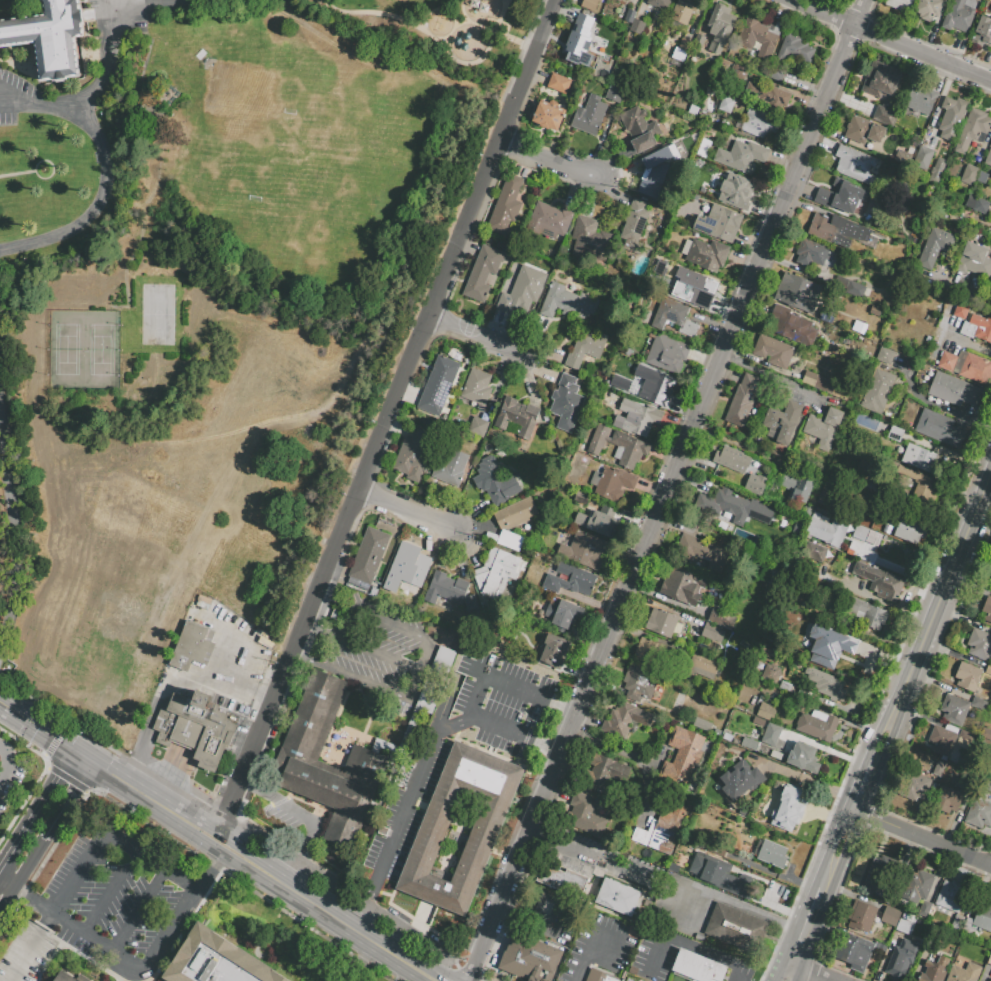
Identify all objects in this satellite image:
road: (108, 3)
road: (317, 3)
building: (660, 3)
road: (119, 4)
building: (588, 4)
building: (901, 4)
road: (636, 6)
building: (928, 9)
building: (684, 10)
road: (642, 11)
road: (778, 12)
road: (823, 13)
building: (960, 15)
parking lot: (119, 18)
road: (708, 18)
building: (631, 19)
road: (697, 21)
building: (720, 26)
building: (638, 29)
building: (984, 29)
park: (436, 31)
road: (485, 31)
building: (49, 36)
building: (759, 36)
road: (435, 41)
building: (579, 41)
building: (700, 44)
building: (686, 47)
road: (923, 53)
building: (790, 56)
road: (537, 76)
road: (100, 80)
building: (880, 80)
building: (558, 83)
building: (614, 93)
parking lot: (13, 97)
building: (770, 97)
building: (921, 99)
road: (17, 105)
building: (549, 115)
building: (589, 115)
building: (885, 115)
building: (951, 117)
building: (758, 123)
building: (640, 128)
building: (863, 130)
building: (972, 130)
park: (276, 133)
road: (601, 139)
building: (742, 155)
building: (988, 158)
road: (545, 159)
building: (924, 159)
road: (613, 161)
building: (855, 163)
road: (50, 165)
building: (938, 171)
road: (619, 172)
road: (17, 173)
building: (656, 173)
building: (969, 174)
road: (103, 189)
road: (575, 191)
road: (612, 192)
building: (739, 192)
building: (842, 196)
road: (590, 198)
building: (982, 205)
building: (505, 208)
building: (549, 221)
building: (719, 222)
building: (635, 226)
building: (837, 230)
building: (590, 241)
road: (458, 246)
road: (470, 247)
building: (933, 247)
building: (809, 253)
building: (707, 254)
building: (976, 260)
building: (483, 272)
building: (696, 287)
building: (522, 290)
building: (856, 292)
building: (798, 293)
building: (567, 302)
building: (961, 310)
building: (876, 313)
park: (159, 316)
building: (673, 317)
road: (498, 326)
building: (793, 326)
building: (966, 328)
building: (981, 328)
building: (860, 329)
road: (477, 335)
road: (538, 337)
road: (970, 342)
building: (587, 347)
building: (773, 350)
park: (85, 351)
road: (546, 351)
building: (666, 353)
building: (886, 357)
building: (966, 365)
road: (540, 370)
building: (593, 374)
road: (781, 378)
road: (529, 379)
building: (817, 382)
building: (622, 383)
building: (438, 384)
road: (501, 385)
building: (477, 387)
building: (659, 389)
building: (954, 390)
building: (877, 391)
road: (412, 392)
building: (743, 400)
building: (566, 403)
road: (938, 405)
building: (518, 416)
building: (638, 416)
building: (782, 422)
building: (479, 426)
building: (823, 427)
building: (940, 428)
road: (400, 430)
building: (894, 433)
building: (618, 449)
building: (413, 456)
building: (919, 457)
building: (731, 460)
building: (451, 467)
building: (867, 473)
building: (495, 481)
building: (611, 481)
building: (754, 484)
building: (797, 488)
building: (921, 488)
road: (666, 490)
building: (772, 490)
road: (430, 497)
building: (582, 498)
building: (847, 499)
building: (740, 507)
road: (407, 510)
building: (515, 513)
road: (472, 514)
road: (14, 516)
building: (598, 521)
building: (886, 528)
building: (909, 529)
building: (825, 530)
road: (477, 531)
building: (866, 535)
road: (432, 540)
building: (510, 540)
road: (468, 547)
building: (584, 550)
building: (701, 552)
building: (814, 553)
building: (368, 555)
road: (338, 567)
road: (468, 568)
building: (407, 569)
road: (897, 570)
building: (496, 571)
building: (769, 576)
building: (569, 580)
building: (880, 581)
building: (682, 585)
road: (943, 585)
building: (990, 587)
building: (445, 589)
building: (373, 591)
building: (813, 598)
building: (202, 602)
building: (472, 606)
building: (987, 609)
building: (865, 612)
building: (562, 613)
building: (720, 617)
building: (231, 620)
building: (662, 623)
parking lot: (387, 624)
building: (712, 632)
building: (258, 634)
road: (298, 635)
building: (270, 639)
building: (830, 639)
building: (453, 642)
building: (505, 644)
building: (979, 644)
building: (192, 646)
building: (553, 651)
road: (245, 652)
building: (656, 655)
building: (855, 662)
parking lot: (237, 664)
parking lot: (369, 664)
road: (423, 665)
building: (703, 666)
building: (989, 671)
building: (773, 674)
building: (967, 676)
building: (436, 679)
road: (174, 682)
building: (637, 682)
road: (511, 684)
building: (829, 686)
building: (678, 700)
parking lot: (496, 703)
building: (980, 704)
building: (954, 709)
building: (766, 712)
building: (625, 720)
building: (758, 721)
road: (66, 722)
building: (702, 724)
road: (37, 726)
building: (816, 726)
road: (79, 728)
building: (196, 728)
building: (717, 731)
building: (770, 734)
road: (878, 734)
building: (986, 735)
building: (726, 736)
road: (55, 739)
building: (940, 739)
building: (735, 741)
parking lot: (239, 742)
building: (749, 743)
building: (723, 749)
building: (775, 754)
road: (83, 755)
road: (633, 755)
building: (682, 755)
building: (803, 757)
road: (8, 759)
road: (67, 762)
building: (365, 763)
road: (422, 767)
building: (939, 768)
building: (988, 769)
road: (84, 772)
building: (605, 773)
road: (3, 777)
road: (804, 777)
building: (738, 779)
building: (913, 786)
road: (856, 789)
road: (278, 800)
building: (948, 800)
road: (154, 801)
road: (307, 802)
parking lot: (2, 807)
parking lot: (405, 808)
road: (59, 810)
road: (226, 810)
building: (586, 814)
building: (759, 814)
building: (979, 816)
parking lot: (280, 817)
building: (784, 817)
road: (859, 819)
road: (303, 820)
road: (29, 821)
building: (663, 826)
building: (430, 834)
road: (919, 838)
road: (550, 846)
road: (831, 848)
road: (301, 851)
building: (770, 853)
road: (151, 861)
parking lot: (300, 863)
road: (252, 864)
road: (210, 867)
parking lot: (613, 867)
road: (23, 868)
road: (614, 871)
building: (882, 872)
road: (180, 880)
building: (562, 880)
building: (735, 882)
building: (917, 886)
road: (370, 890)
road: (70, 891)
road: (109, 891)
road: (688, 893)
road: (22, 894)
building: (950, 895)
building: (617, 897)
road: (2, 903)
building: (648, 904)
building: (547, 907)
parking lot: (684, 907)
road: (808, 909)
parking lot: (107, 910)
road: (138, 910)
road: (283, 910)
building: (924, 910)
road: (754, 913)
road: (406, 915)
building: (861, 916)
building: (890, 916)
building: (983, 917)
building: (957, 922)
building: (903, 925)
road: (350, 926)
building: (739, 928)
road: (805, 933)
parking lot: (413, 937)
parking lot: (598, 947)
road: (792, 947)
road: (690, 948)
road: (806, 952)
building: (854, 952)
road: (590, 954)
parking lot: (655, 957)
building: (529, 959)
building: (216, 960)
road: (363, 961)
building: (899, 962)
road: (136, 965)
building: (694, 966)
road: (793, 966)
road: (433, 971)
building: (932, 971)
building: (719, 972)
road: (782, 972)
building: (964, 973)
road: (419, 974)
road: (817, 974)
road: (797, 975)
building: (599, 976)
building: (64, 977)
parking lot: (632, 978)
parking lot: (347, 979)
building: (694, 980)

